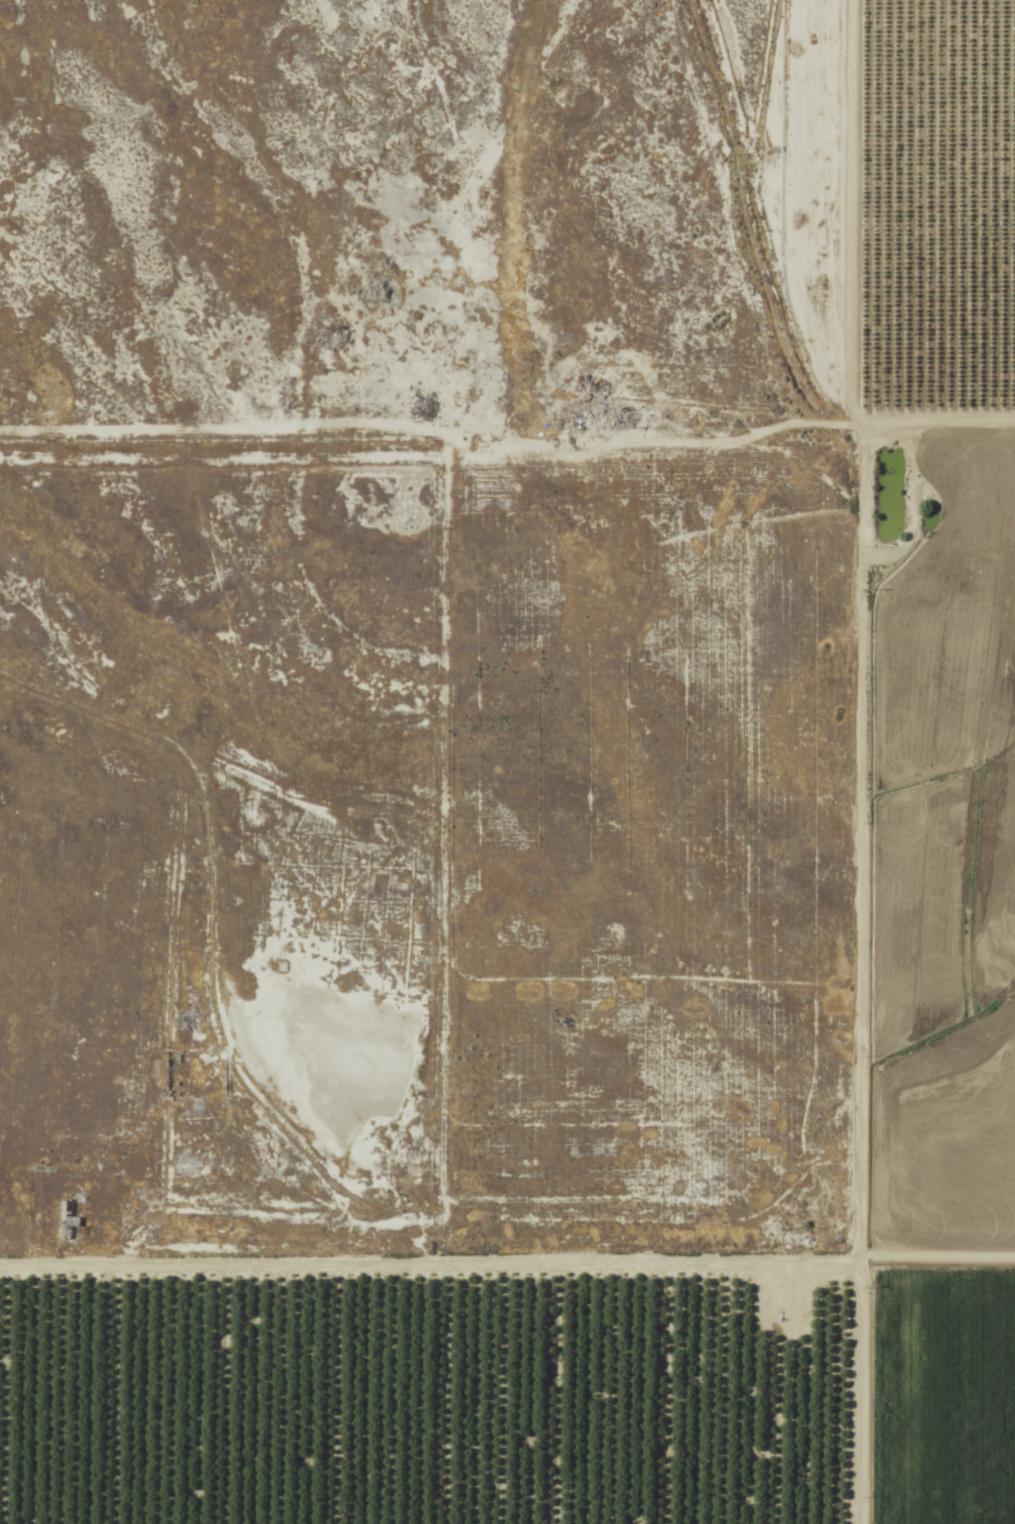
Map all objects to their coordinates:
road: (933, 487)
road: (851, 762)
road: (425, 1205)
building: (66, 1221)

